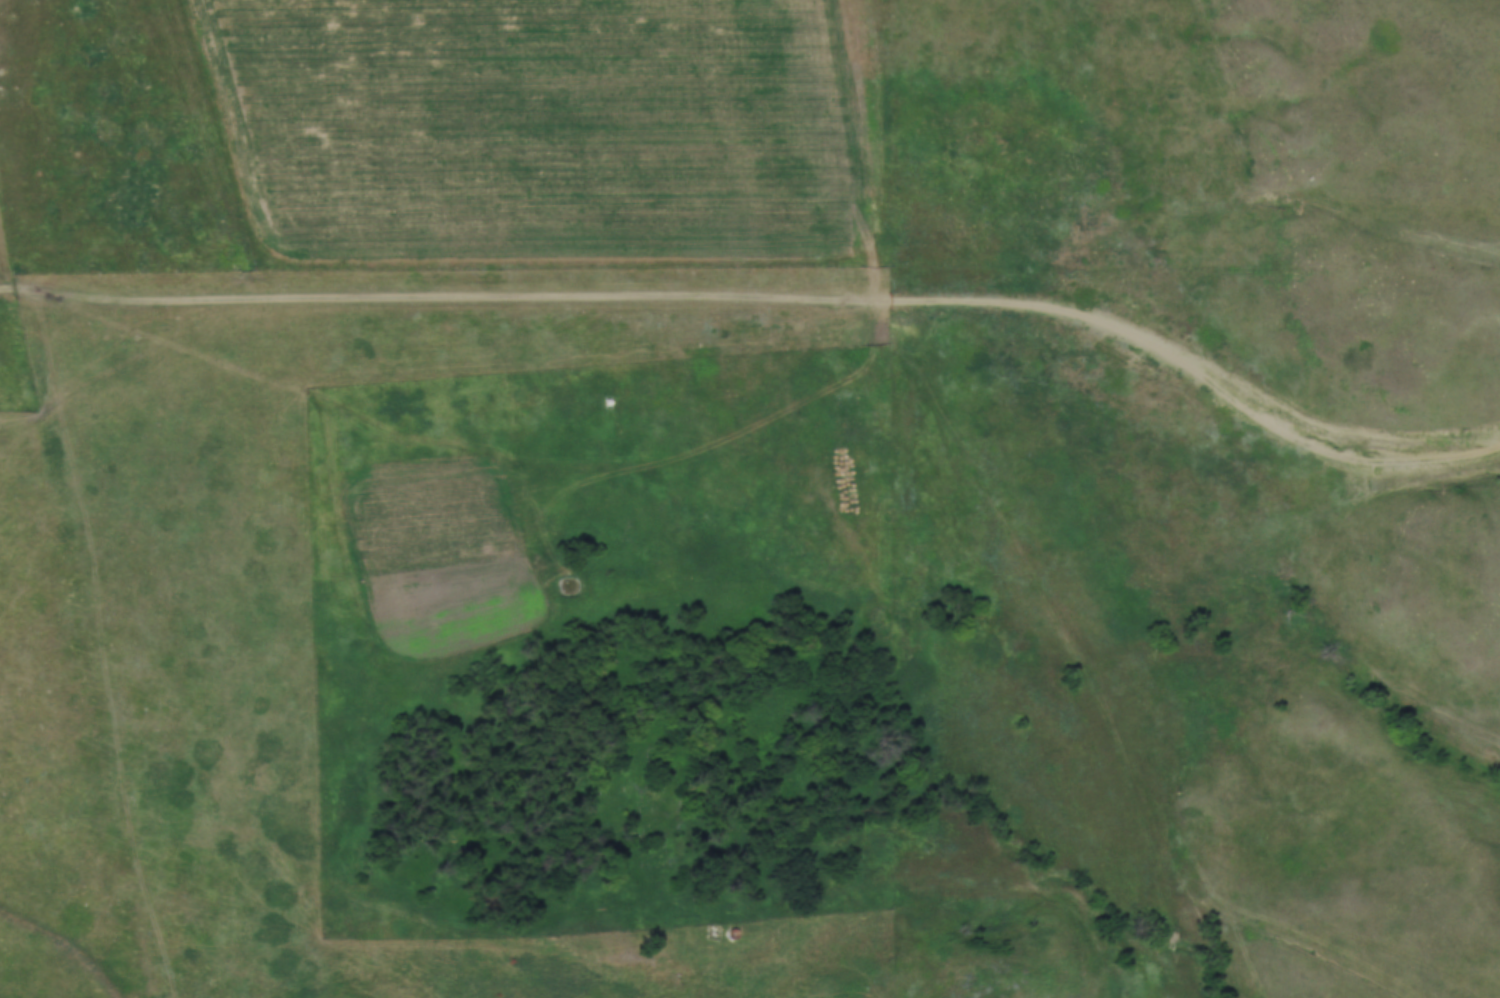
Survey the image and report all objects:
road: (8, 285)
road: (767, 294)
road: (109, 645)

